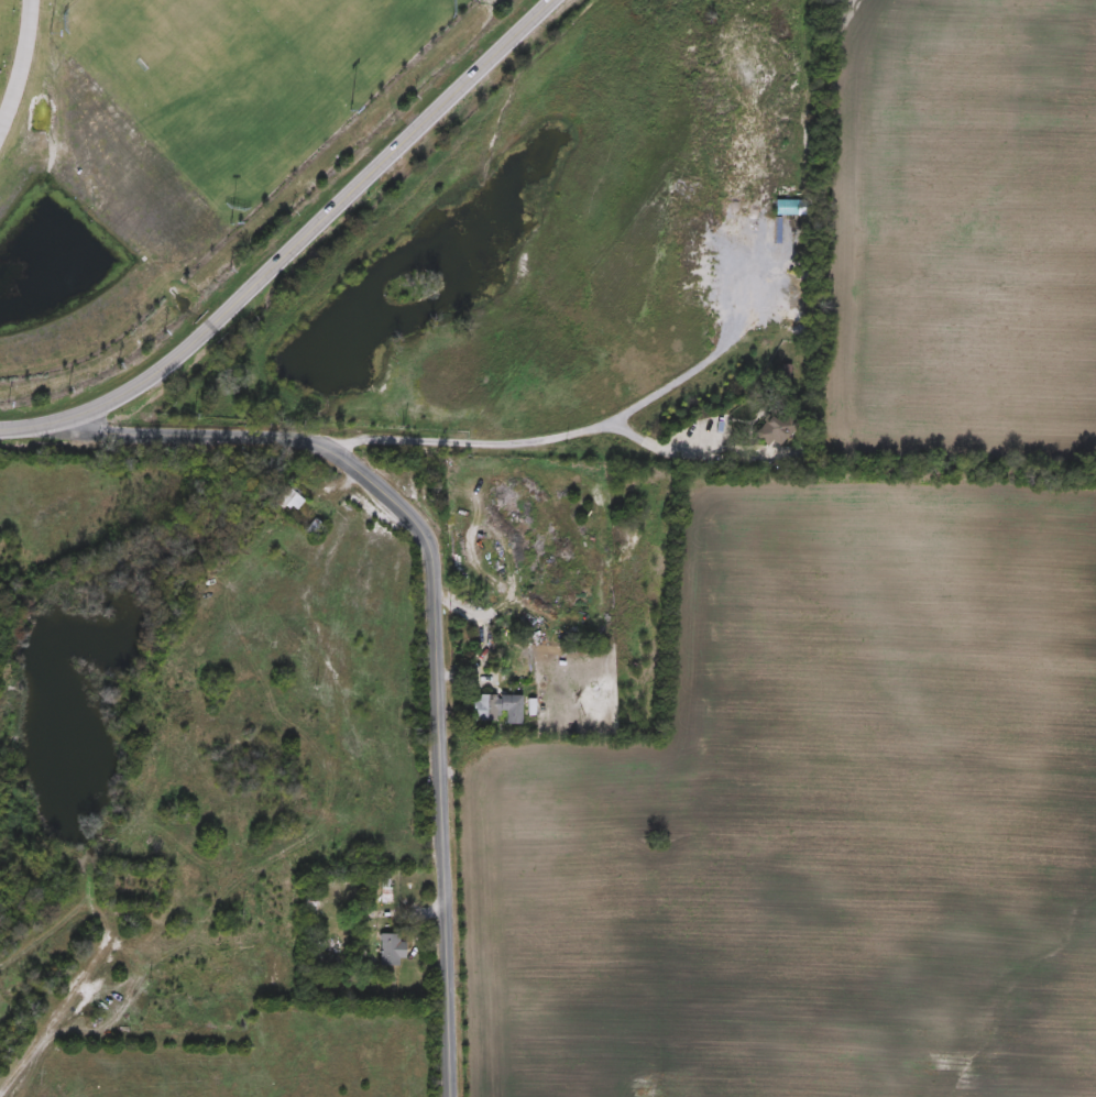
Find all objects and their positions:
park: (350, 30)
road: (19, 67)
park: (202, 86)
building: (783, 208)
road: (294, 245)
road: (700, 361)
building: (788, 369)
road: (450, 431)
building: (769, 431)
road: (639, 440)
building: (288, 501)
road: (431, 621)
road: (476, 625)
building: (483, 710)
building: (383, 891)
building: (308, 904)
building: (388, 948)

